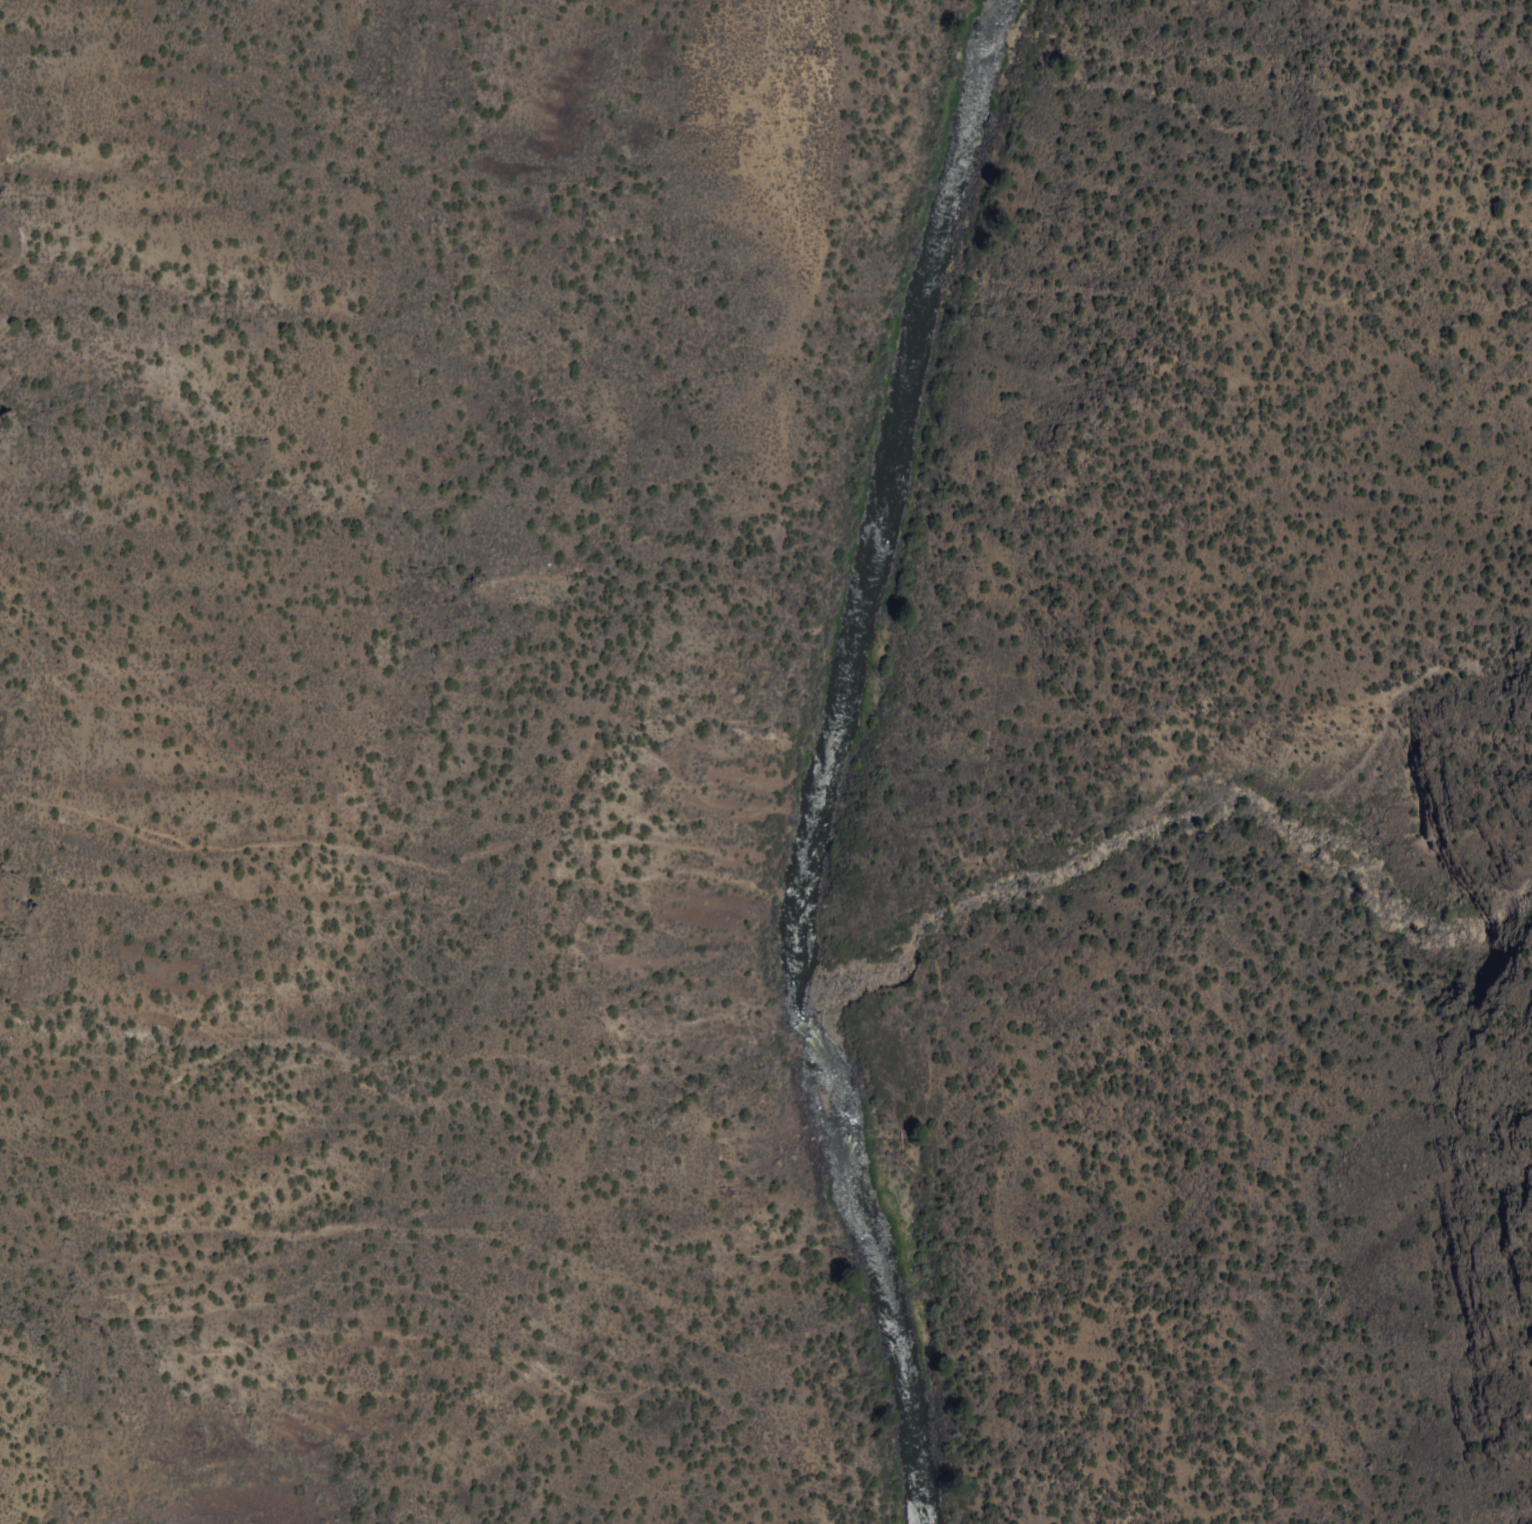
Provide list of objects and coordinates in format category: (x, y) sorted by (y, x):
river: (832, 761)

